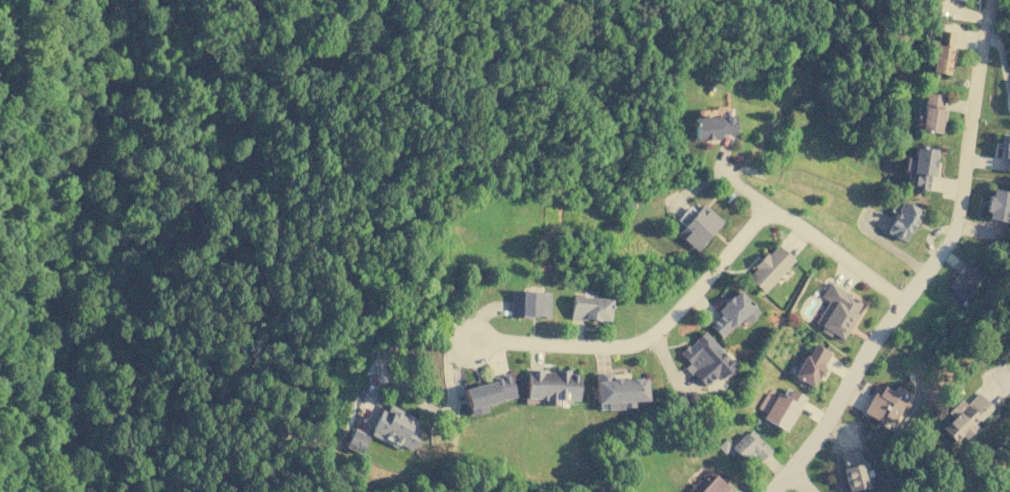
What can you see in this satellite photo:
building: (961, 0)
building: (940, 51)
building: (931, 112)
building: (711, 126)
building: (1005, 148)
building: (919, 167)
building: (997, 205)
building: (903, 221)
building: (699, 227)
road: (929, 265)
building: (768, 267)
building: (962, 280)
road: (698, 284)
building: (529, 303)
building: (590, 307)
building: (836, 311)
building: (732, 313)
building: (705, 359)
building: (811, 364)
road: (1009, 383)
building: (551, 385)
building: (618, 390)
building: (487, 393)
building: (886, 403)
building: (778, 407)
building: (965, 416)
building: (395, 426)
building: (356, 441)
building: (749, 446)
building: (852, 469)
road: (800, 480)
building: (708, 483)

